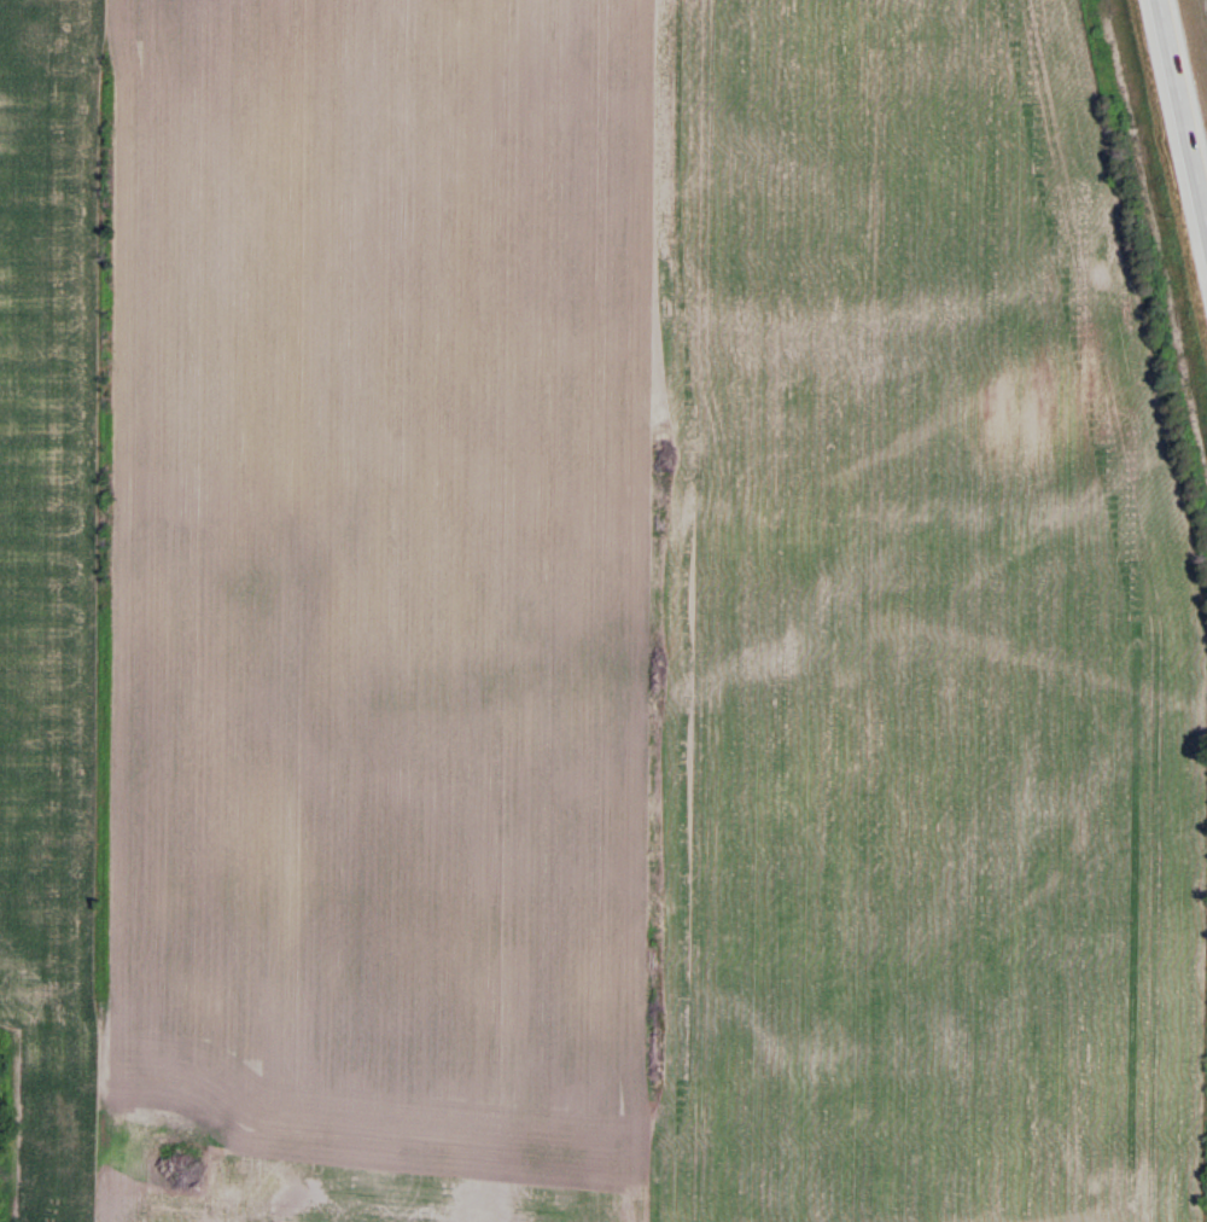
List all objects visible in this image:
road: (1182, 115)

